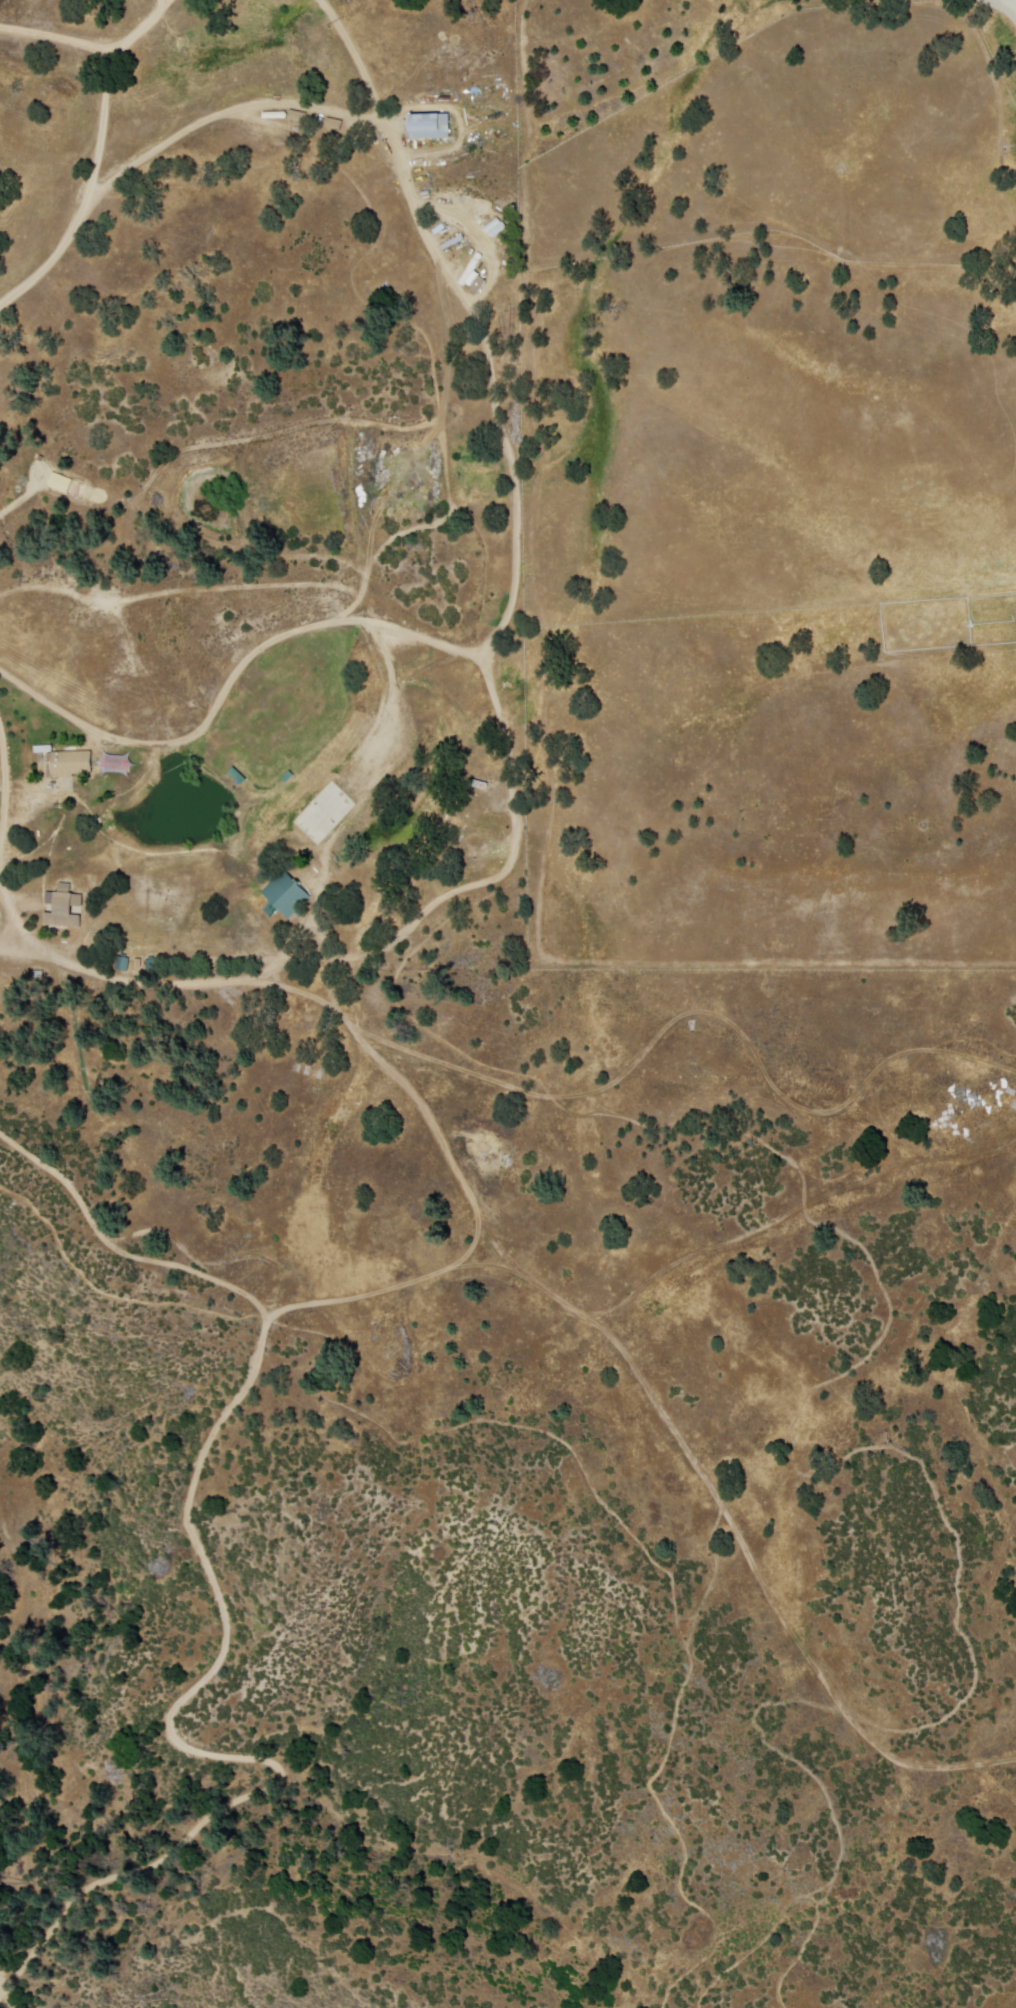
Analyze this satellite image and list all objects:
road: (1007, 4)
road: (93, 47)
building: (429, 126)
road: (82, 192)
building: (380, 754)
building: (68, 764)
building: (234, 776)
building: (325, 814)
building: (477, 818)
road: (3, 836)
building: (138, 854)
building: (286, 895)
building: (123, 898)
building: (64, 908)
building: (989, 1091)
building: (962, 1107)

